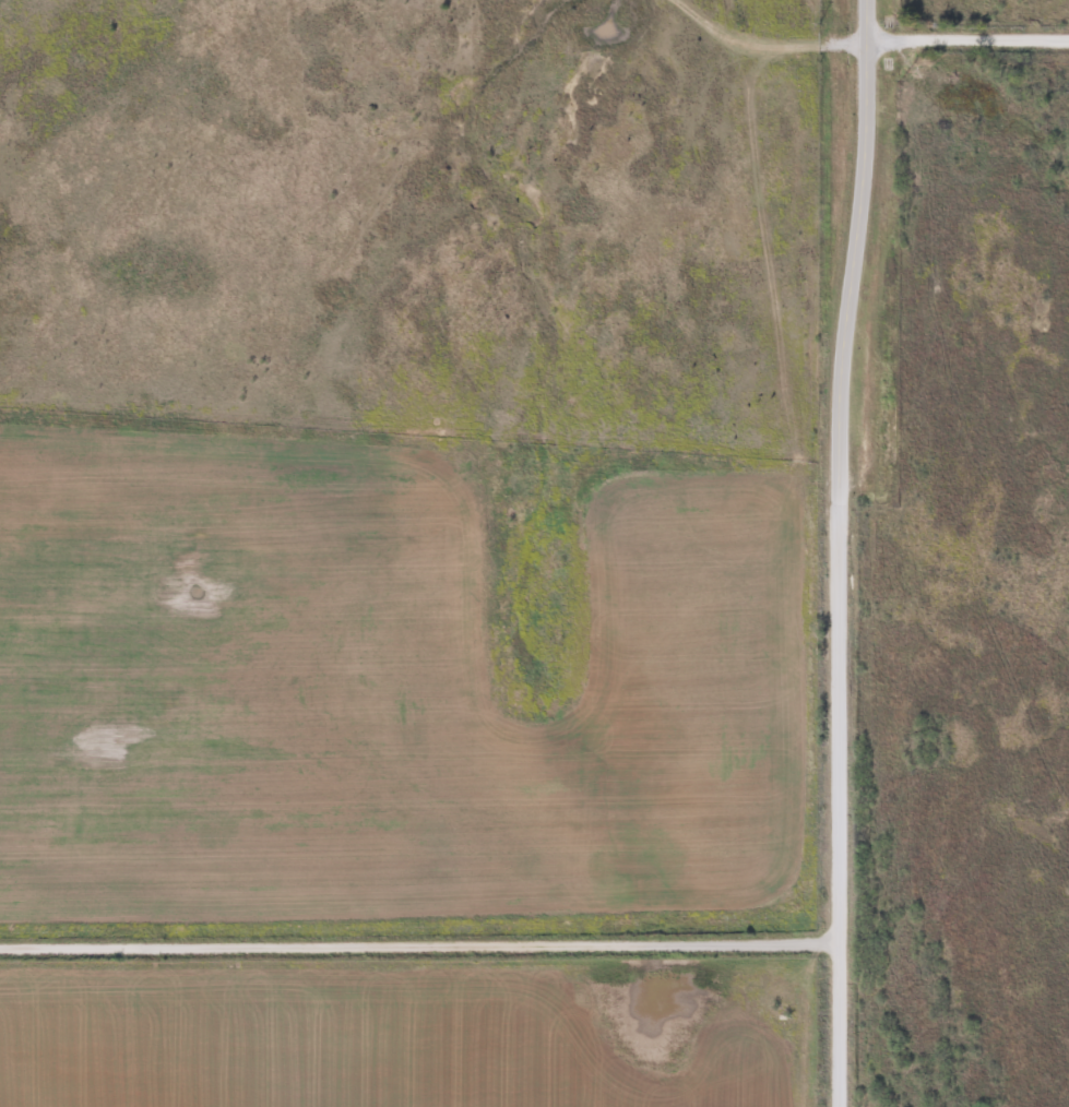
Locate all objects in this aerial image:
road: (967, 38)
road: (851, 257)
road: (843, 810)
road: (421, 944)

